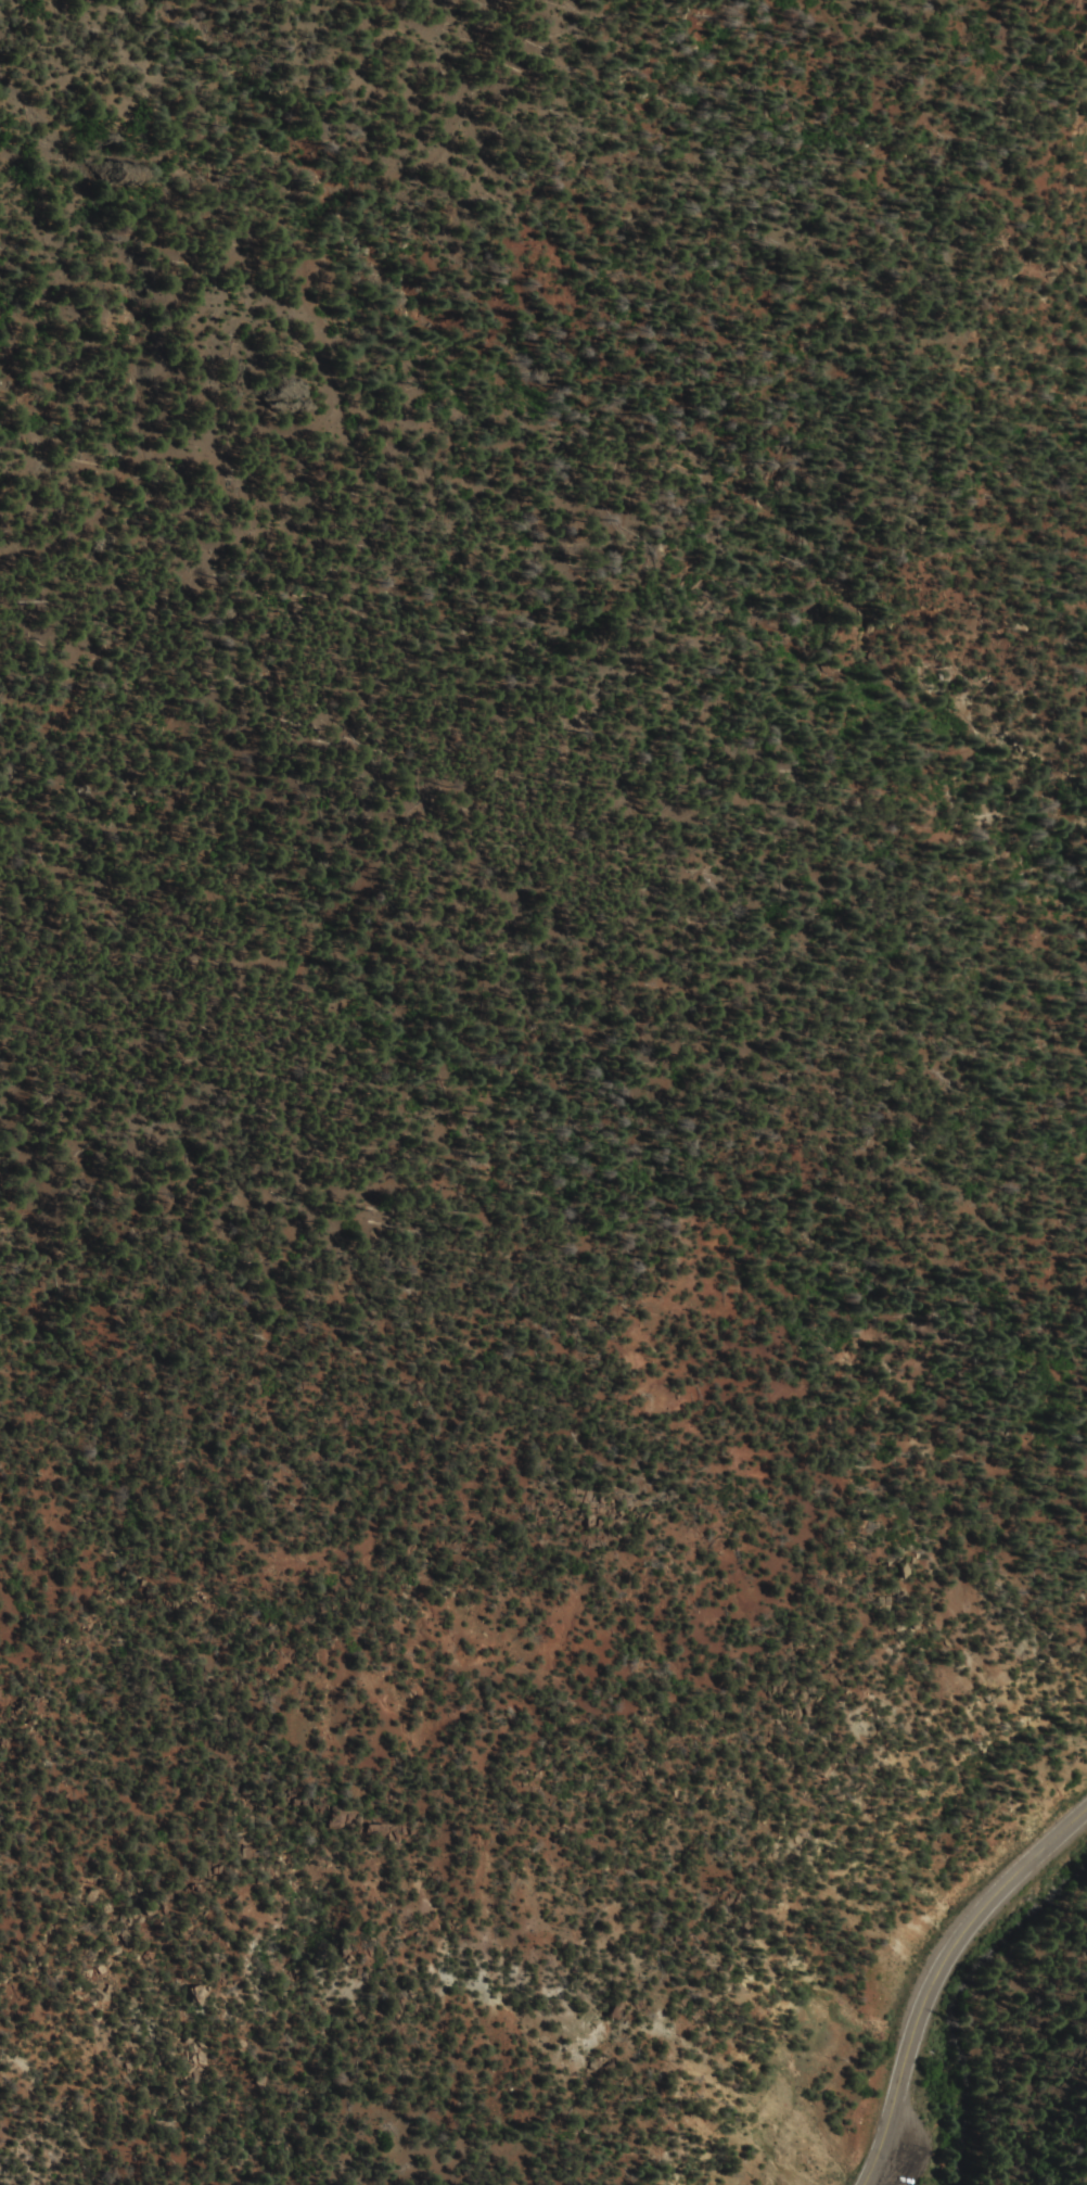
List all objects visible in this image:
road: (937, 1973)

